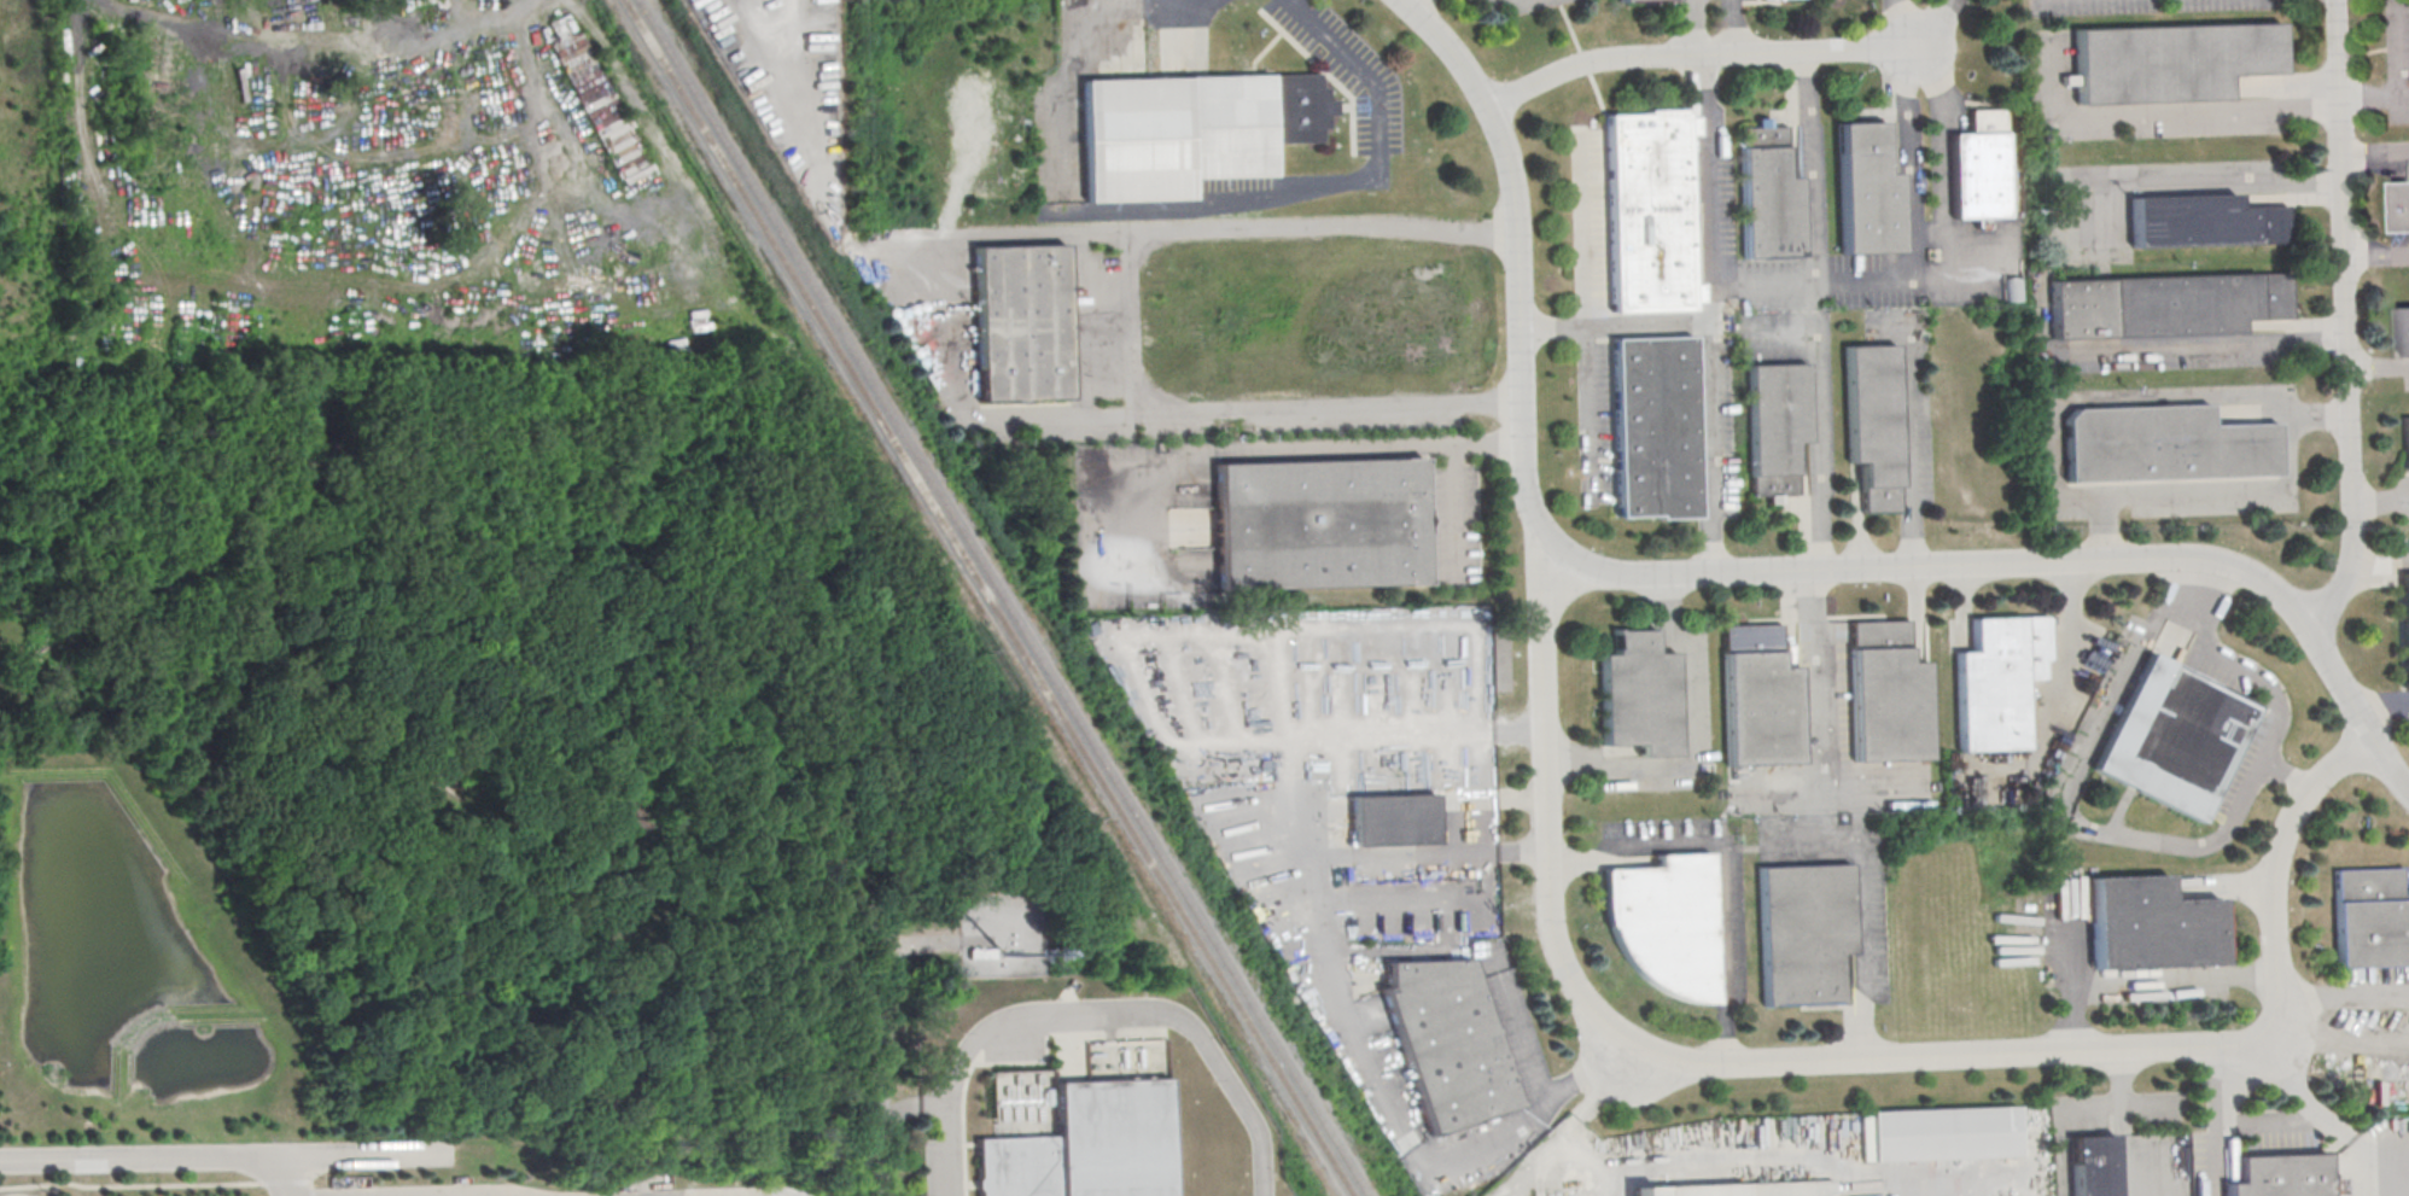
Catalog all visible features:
building: (1635, 0)
road: (1107, 1)
parking lot: (2152, 5)
road: (1929, 23)
road: (1896, 24)
road: (1730, 28)
road: (1697, 29)
road: (2401, 54)
road: (1697, 58)
parking lot: (2397, 59)
building: (2170, 62)
road: (1921, 64)
road: (2376, 94)
parking lot: (2139, 104)
road: (2171, 113)
building: (1190, 130)
road: (1935, 154)
road: (1915, 157)
building: (1978, 168)
road: (2192, 181)
road: (1346, 185)
building: (1866, 191)
building: (1768, 204)
building: (2402, 205)
building: (1647, 212)
building: (2203, 221)
road: (2379, 258)
road: (1888, 281)
road: (1762, 285)
building: (2011, 288)
building: (2165, 303)
road: (1587, 313)
road: (1711, 314)
road: (1125, 320)
building: (1021, 322)
road: (1616, 323)
road: (2352, 323)
building: (2404, 331)
road: (2207, 349)
road: (2381, 371)
road: (2104, 398)
building: (1872, 424)
building: (1653, 427)
building: (1777, 428)
building: (2405, 443)
building: (2163, 444)
road: (1332, 447)
road: (1908, 447)
road: (1453, 468)
road: (2232, 491)
building: (1319, 523)
road: (1743, 572)
road: (1816, 576)
railway: (987, 597)
railway: (1002, 597)
road: (2181, 606)
road: (2070, 613)
building: (2405, 624)
road: (2248, 678)
building: (1999, 682)
building: (1886, 693)
building: (1639, 696)
building: (1758, 698)
building: (2174, 736)
road: (1695, 742)
road: (1828, 788)
road: (1290, 790)
building: (1401, 821)
road: (2222, 836)
road: (1720, 865)
building: (2370, 917)
building: (1666, 923)
building: (2150, 924)
building: (1803, 932)
road: (934, 941)
building: (979, 953)
road: (2145, 982)
road: (2343, 997)
road: (1095, 1013)
road: (1348, 1014)
building: (1447, 1044)
road: (880, 1054)
road: (1845, 1060)
road: (916, 1107)
road: (2271, 1120)
road: (2121, 1122)
road: (1569, 1125)
building: (1937, 1133)
building: (1089, 1147)
road: (218, 1161)
building: (2092, 1165)
building: (2279, 1175)
road: (284, 1178)
building: (1738, 1189)

